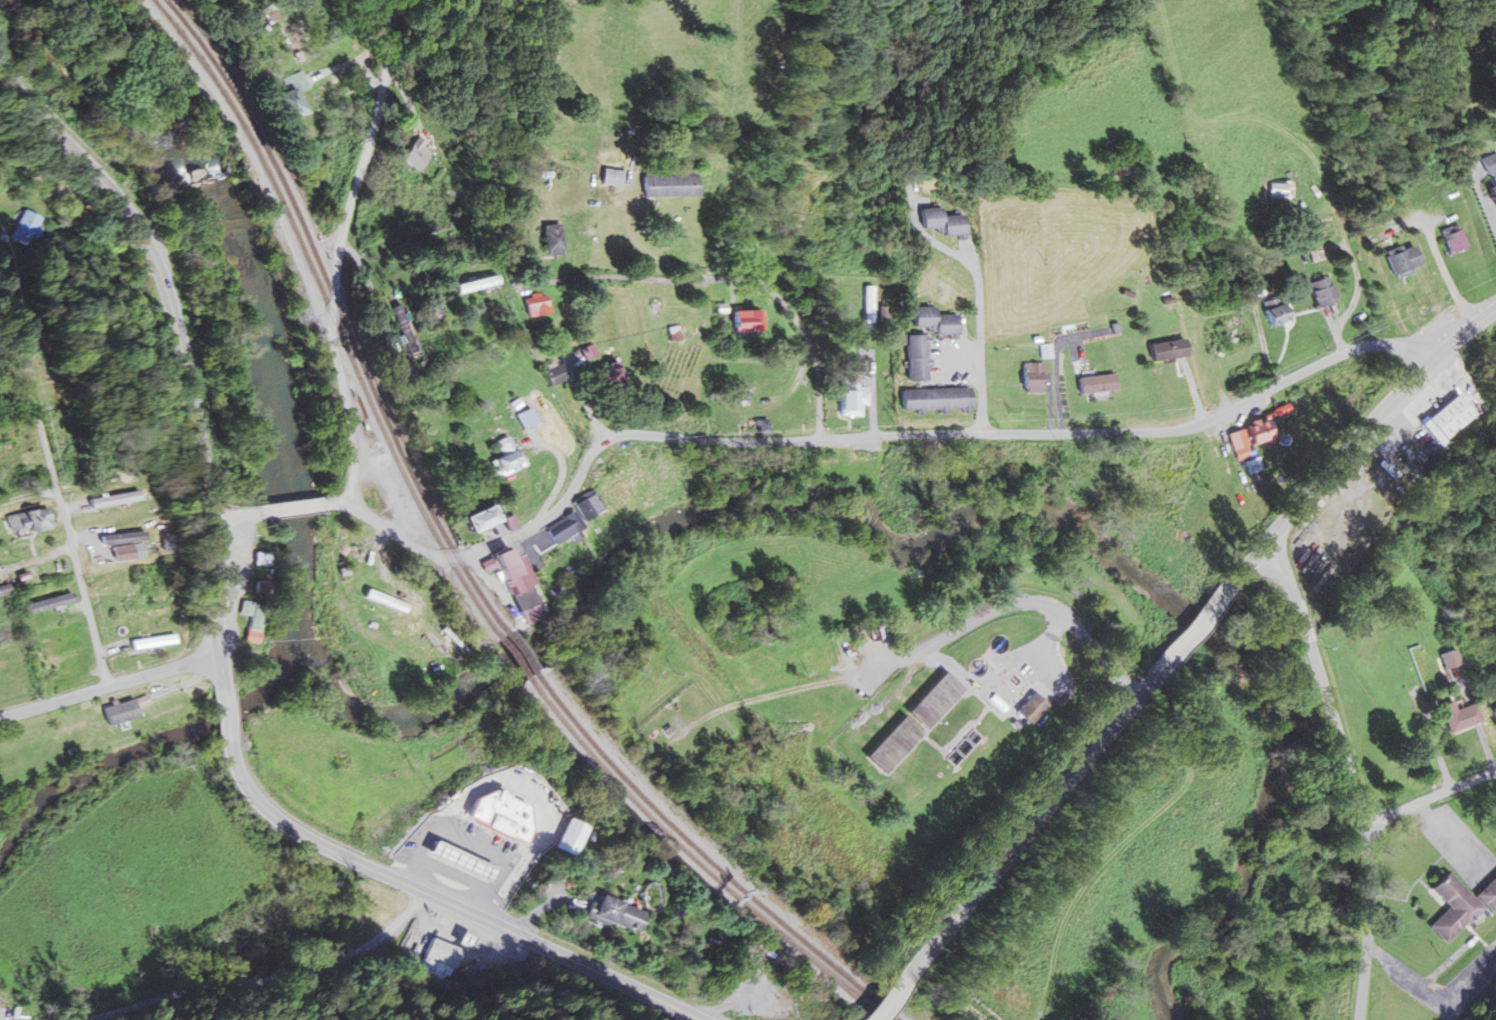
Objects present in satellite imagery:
building: (267, 14)
building: (162, 26)
building: (294, 94)
road: (412, 117)
road: (1262, 122)
building: (416, 155)
building: (1118, 164)
building: (1493, 168)
building: (612, 177)
building: (671, 182)
building: (1277, 190)
road: (85, 210)
building: (944, 222)
building: (25, 228)
building: (553, 238)
building: (1454, 238)
road: (340, 251)
road: (405, 255)
building: (1403, 259)
road: (724, 280)
building: (477, 284)
building: (1323, 291)
building: (535, 304)
building: (433, 311)
building: (1277, 311)
building: (747, 320)
building: (936, 320)
road: (1470, 327)
building: (404, 329)
building: (1237, 332)
road: (978, 339)
road: (1394, 345)
road: (181, 349)
building: (1168, 349)
building: (917, 357)
building: (554, 374)
building: (1033, 377)
building: (1096, 383)
building: (936, 398)
building: (853, 401)
building: (802, 404)
building: (524, 417)
building: (1446, 419)
building: (1259, 432)
road: (810, 439)
building: (501, 457)
building: (1255, 465)
building: (613, 467)
road: (28, 496)
building: (115, 499)
building: (586, 507)
road: (291, 508)
road: (233, 515)
building: (479, 518)
building: (26, 521)
building: (560, 528)
road: (69, 530)
building: (124, 538)
railway: (460, 560)
railway: (449, 561)
building: (517, 585)
building: (262, 586)
building: (385, 601)
building: (145, 603)
building: (252, 619)
building: (154, 642)
road: (925, 646)
road: (1170, 657)
building: (1448, 659)
building: (1420, 667)
road: (110, 686)
building: (935, 701)
building: (1031, 709)
building: (121, 712)
road: (225, 716)
building: (1462, 717)
road: (1428, 723)
building: (894, 746)
road: (1349, 773)
road: (1430, 796)
road: (1121, 837)
road: (445, 901)
building: (1460, 906)
building: (616, 914)
building: (439, 960)
road: (277, 980)
road: (891, 1000)

